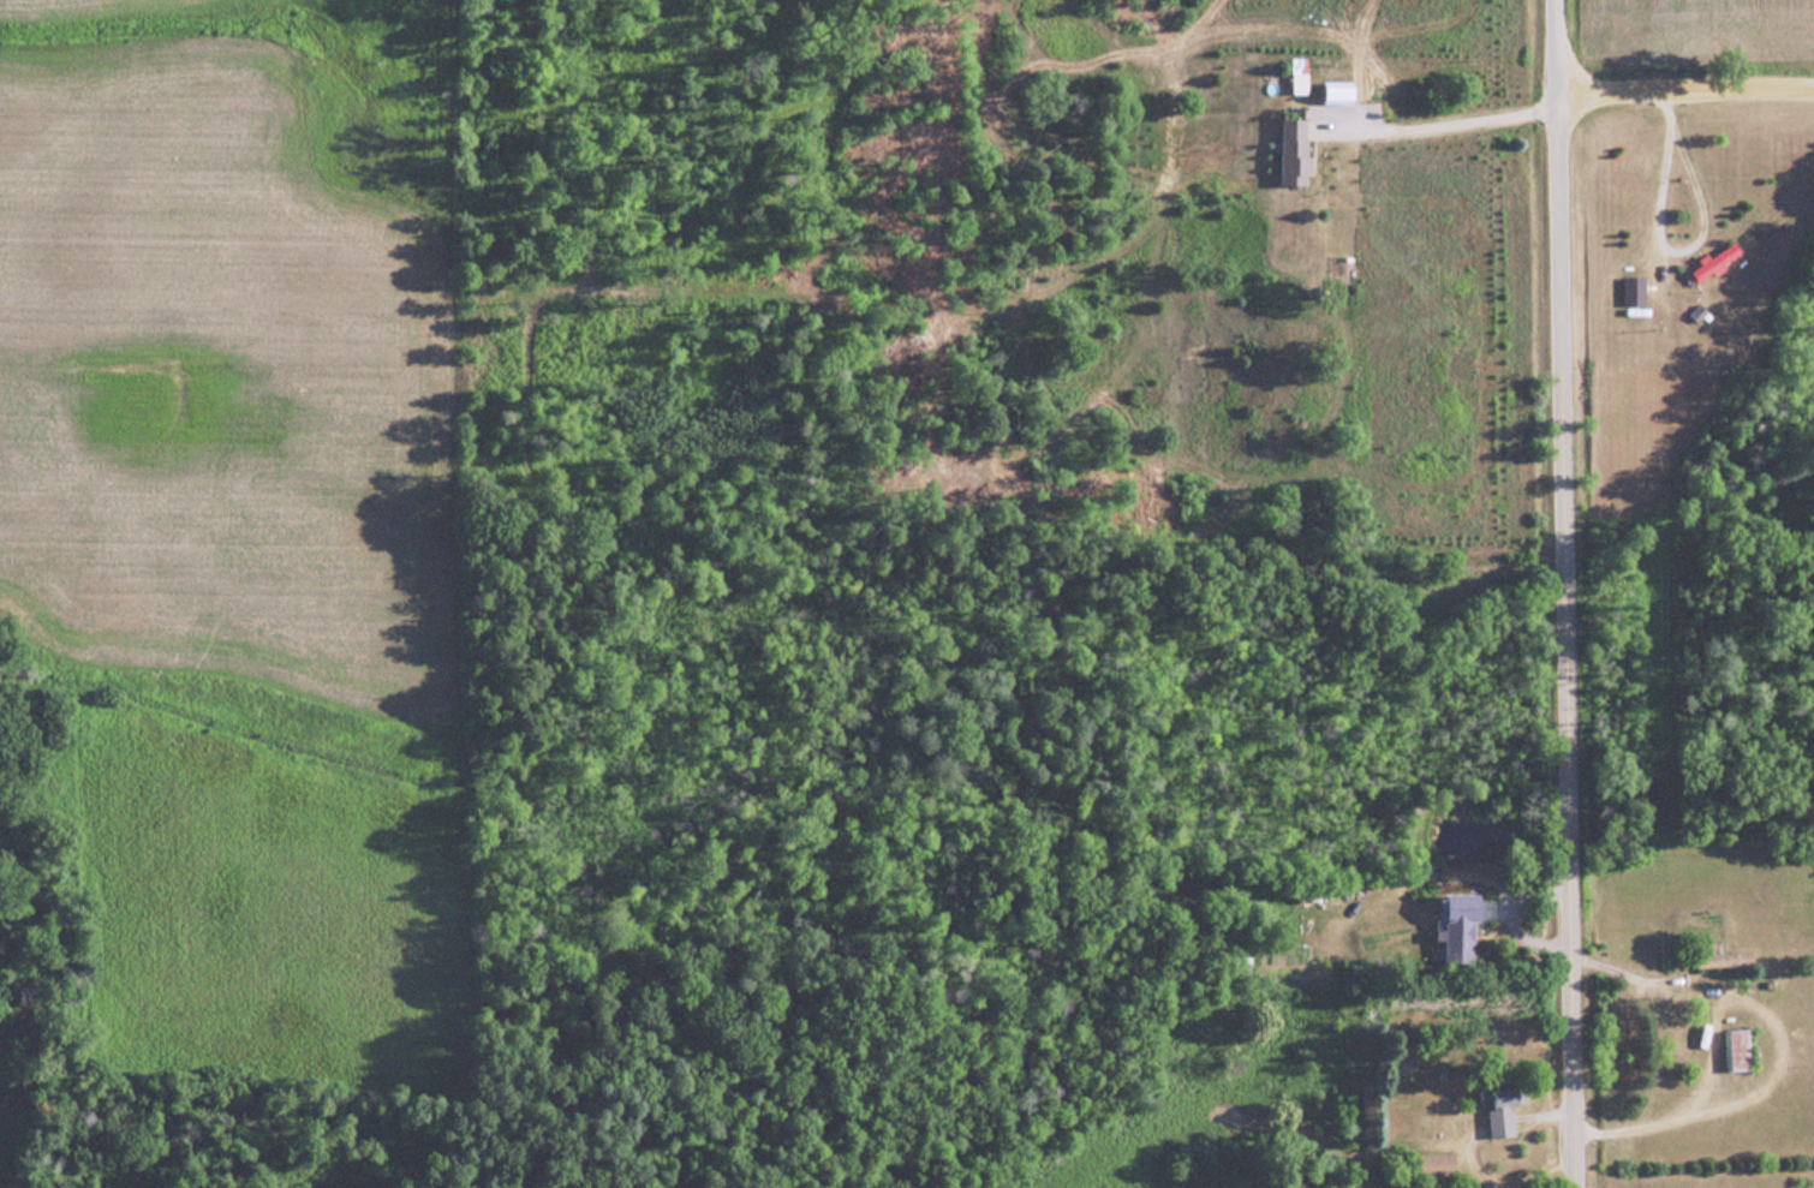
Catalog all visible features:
road: (1687, 98)
road: (1436, 120)
building: (1295, 153)
building: (1715, 262)
building: (1634, 291)
road: (1567, 593)
building: (1468, 912)
building: (1721, 961)
building: (1738, 1049)
road: (1689, 1105)
building: (1505, 1109)
building: (1438, 1164)

